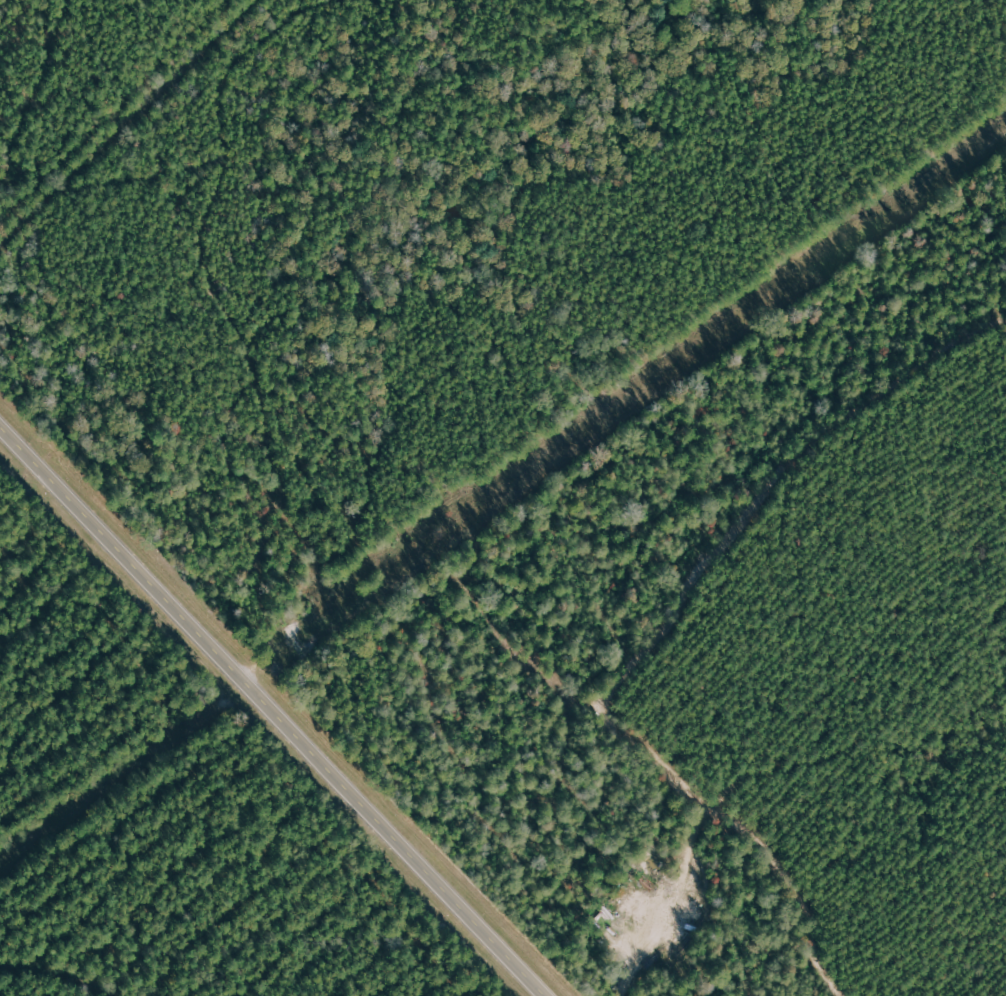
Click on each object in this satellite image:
road: (620, 369)
road: (272, 710)

